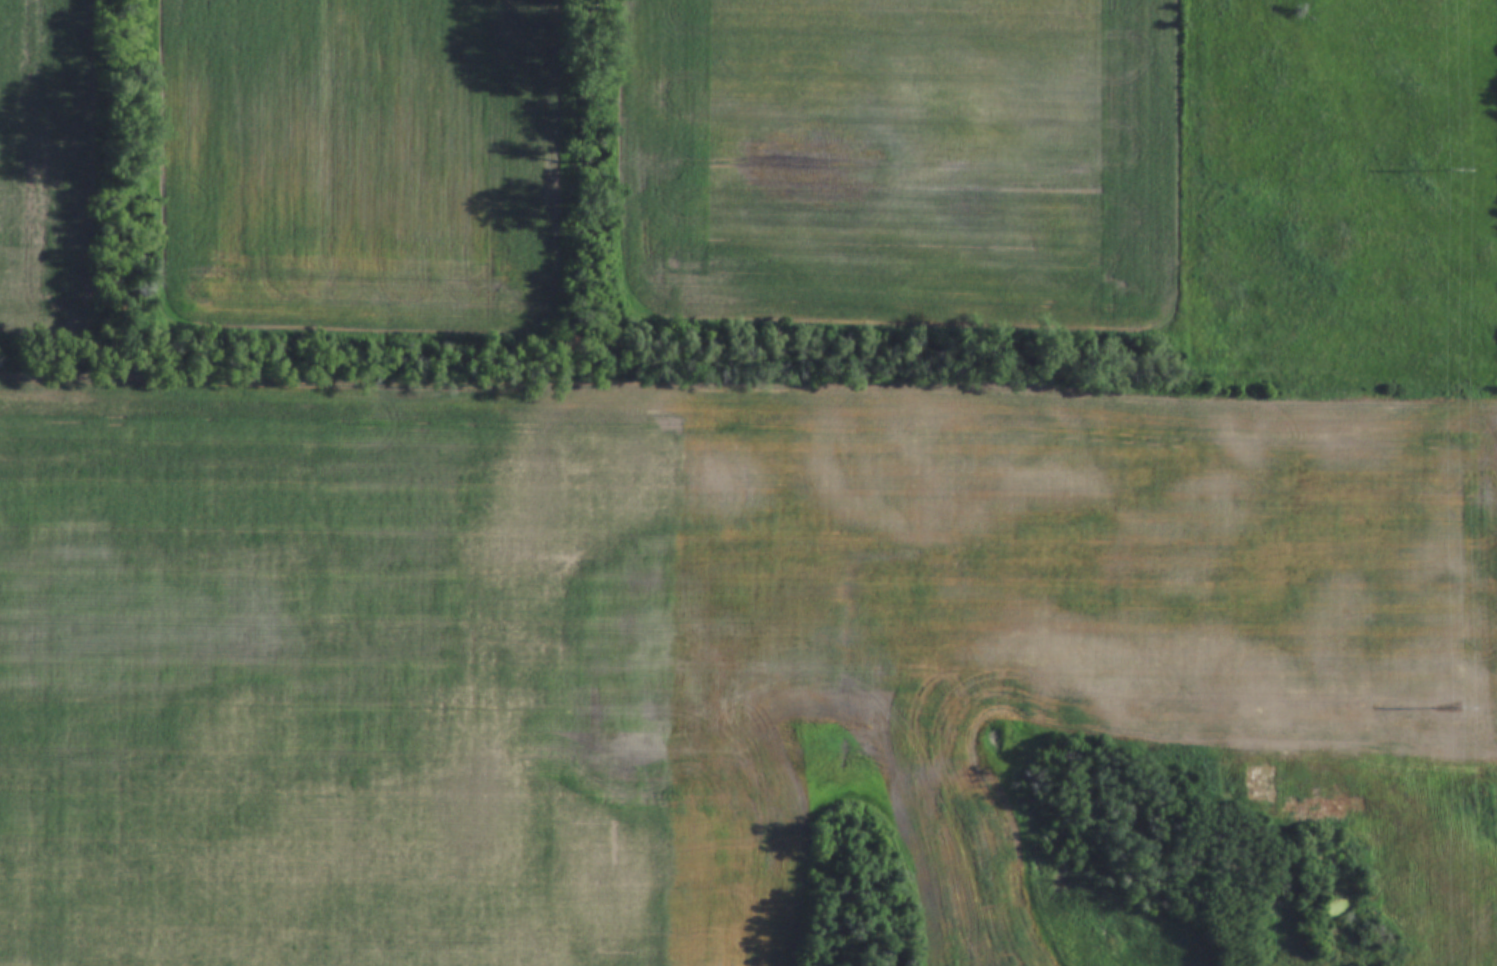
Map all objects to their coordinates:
power tower: (1447, 166)
power tower: (1451, 706)

